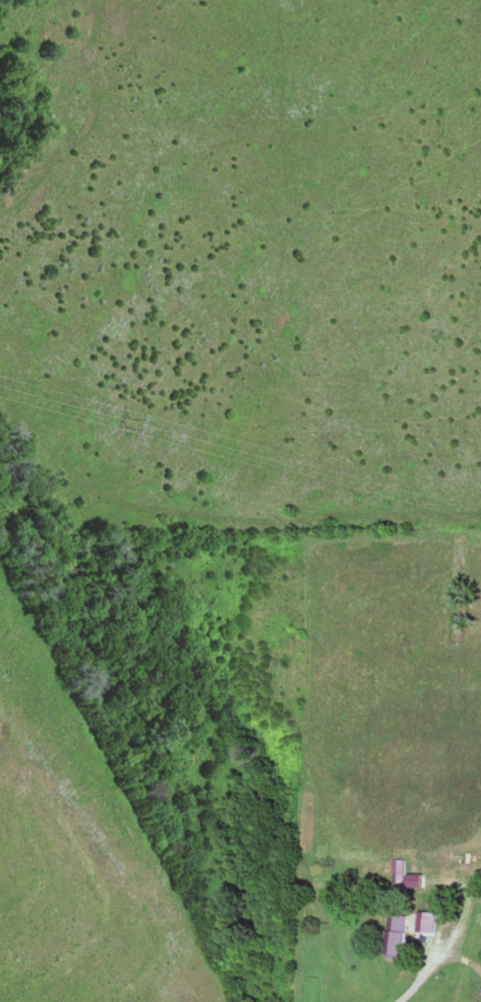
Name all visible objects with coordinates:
building: (429, 921)
building: (399, 936)
road: (441, 969)

